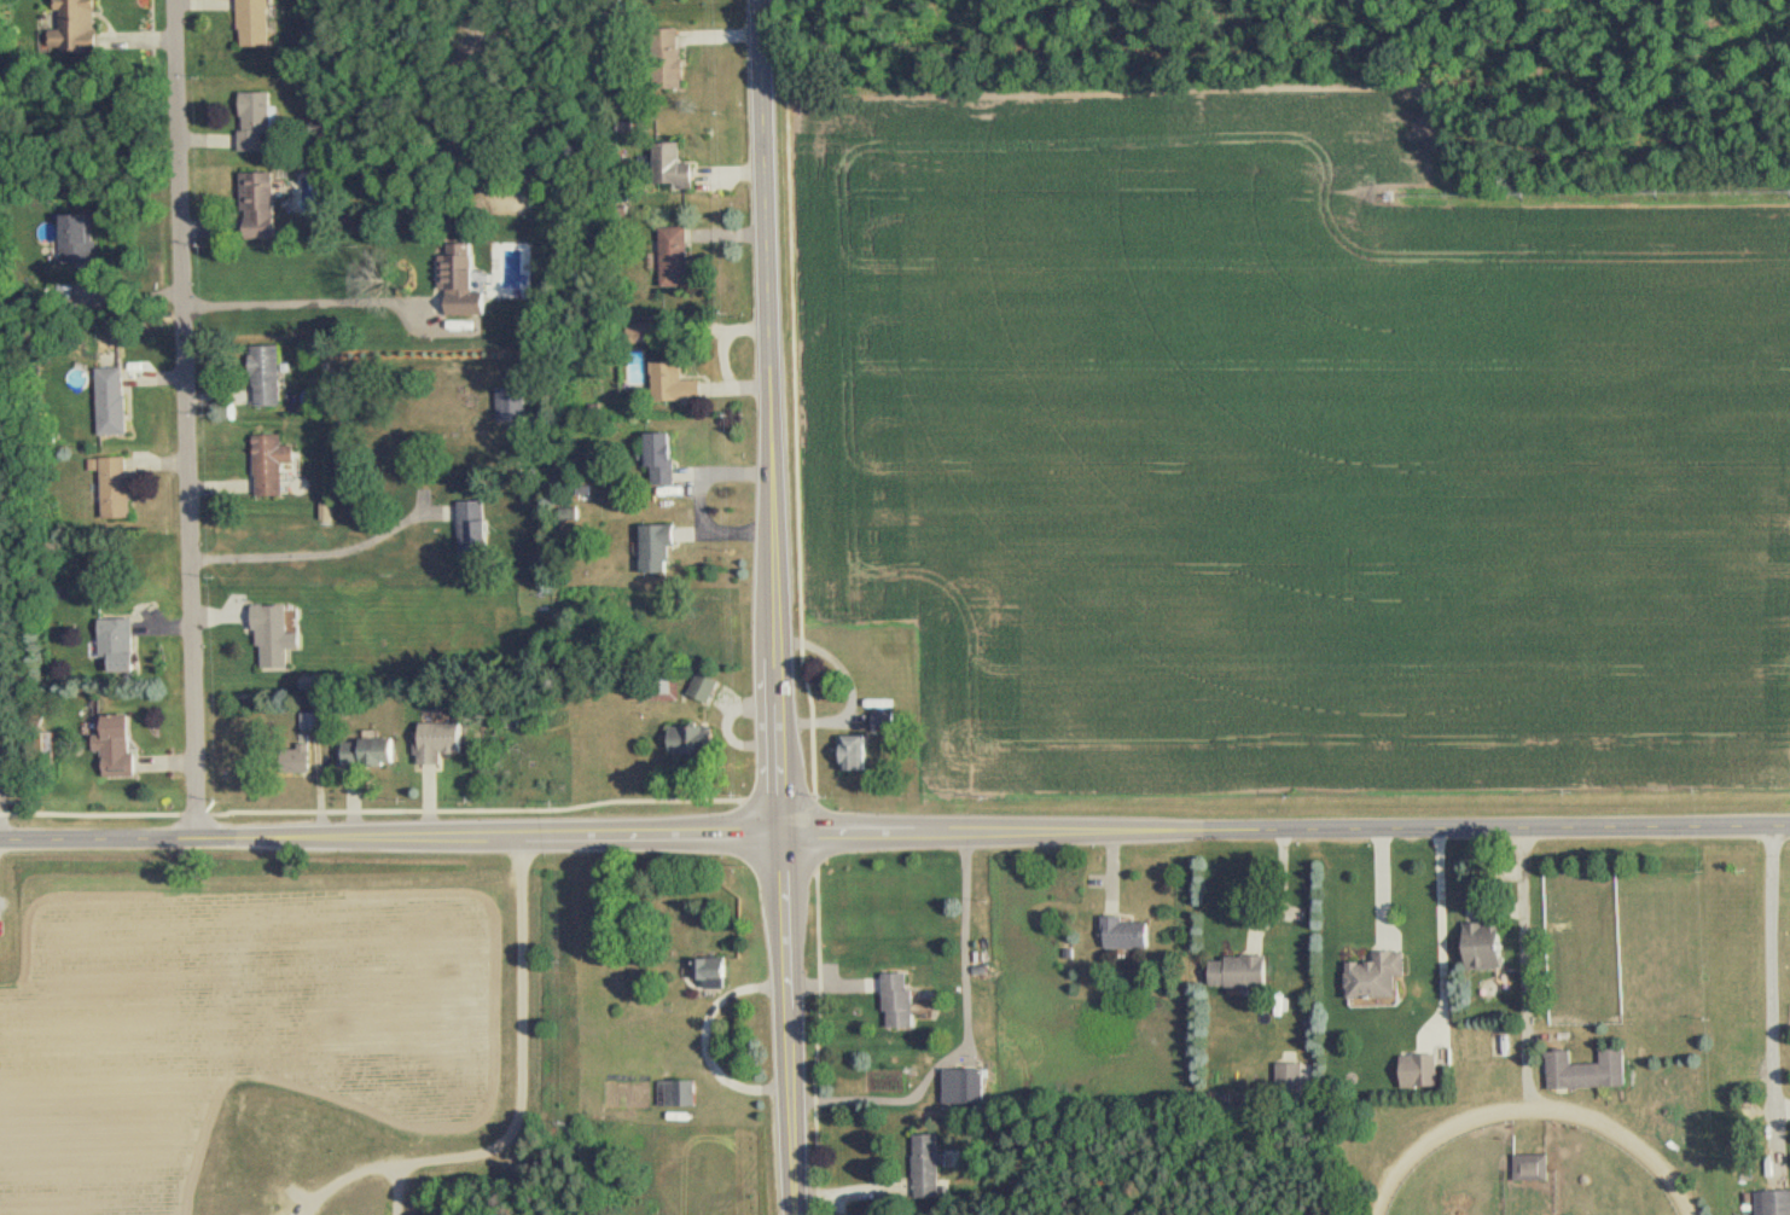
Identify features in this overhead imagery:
building: (258, 23)
building: (77, 27)
building: (261, 120)
building: (684, 169)
building: (267, 203)
building: (85, 238)
building: (685, 243)
building: (467, 283)
road: (312, 306)
building: (685, 383)
building: (115, 400)
road: (186, 418)
building: (672, 460)
building: (277, 464)
building: (117, 486)
building: (477, 528)
building: (668, 547)
road: (325, 554)
road: (781, 606)
building: (279, 635)
building: (122, 643)
building: (312, 721)
building: (887, 725)
building: (444, 742)
building: (121, 745)
building: (372, 751)
building: (856, 755)
road: (1, 814)
road: (895, 835)
road: (1440, 928)
building: (1128, 934)
building: (1480, 947)
road: (1527, 961)
building: (721, 971)
building: (1239, 972)
building: (1373, 978)
road: (1773, 996)
building: (903, 1000)
road: (967, 1036)
road: (713, 1041)
building: (1416, 1070)
building: (1583, 1070)
building: (1292, 1077)
building: (967, 1087)
road: (523, 1089)
building: (690, 1094)
building: (930, 1165)
building: (1528, 1168)
building: (1776, 1202)

